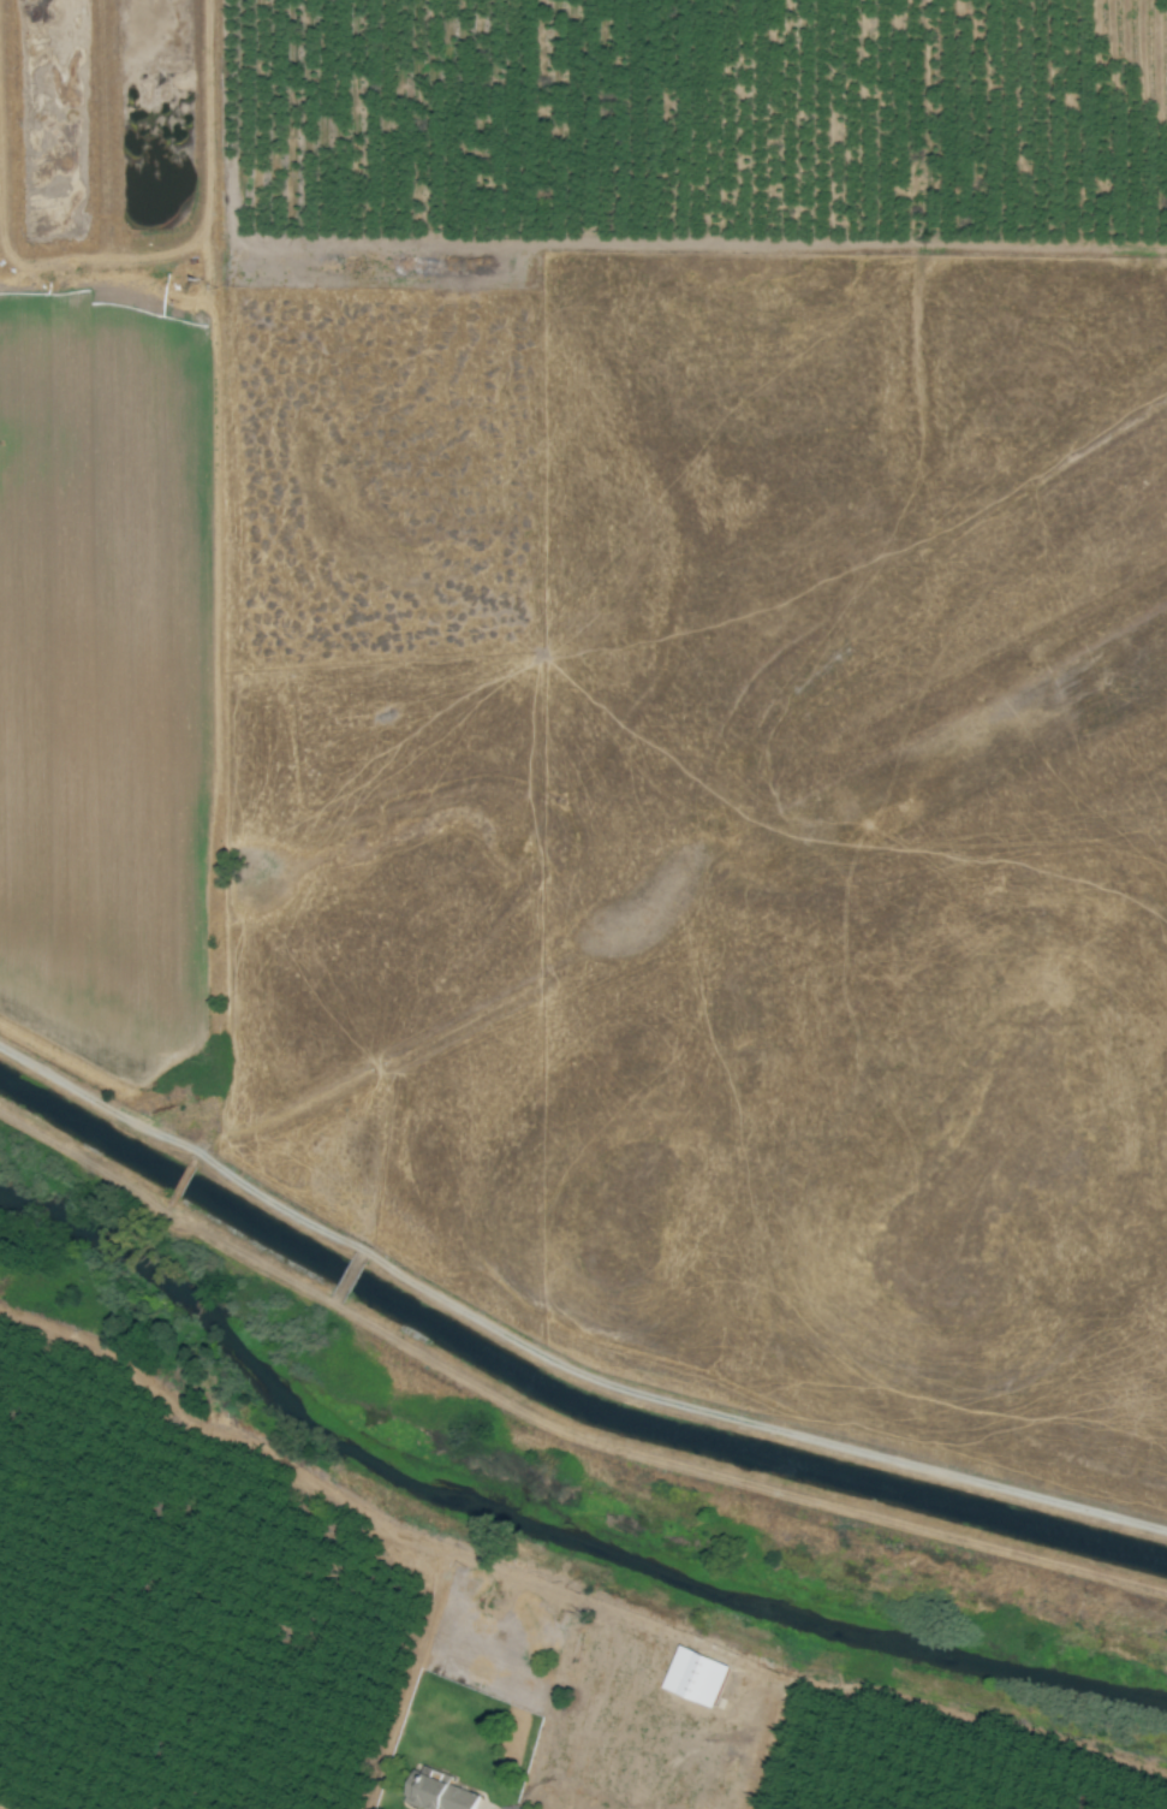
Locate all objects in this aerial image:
building: (697, 1675)
building: (439, 1792)

